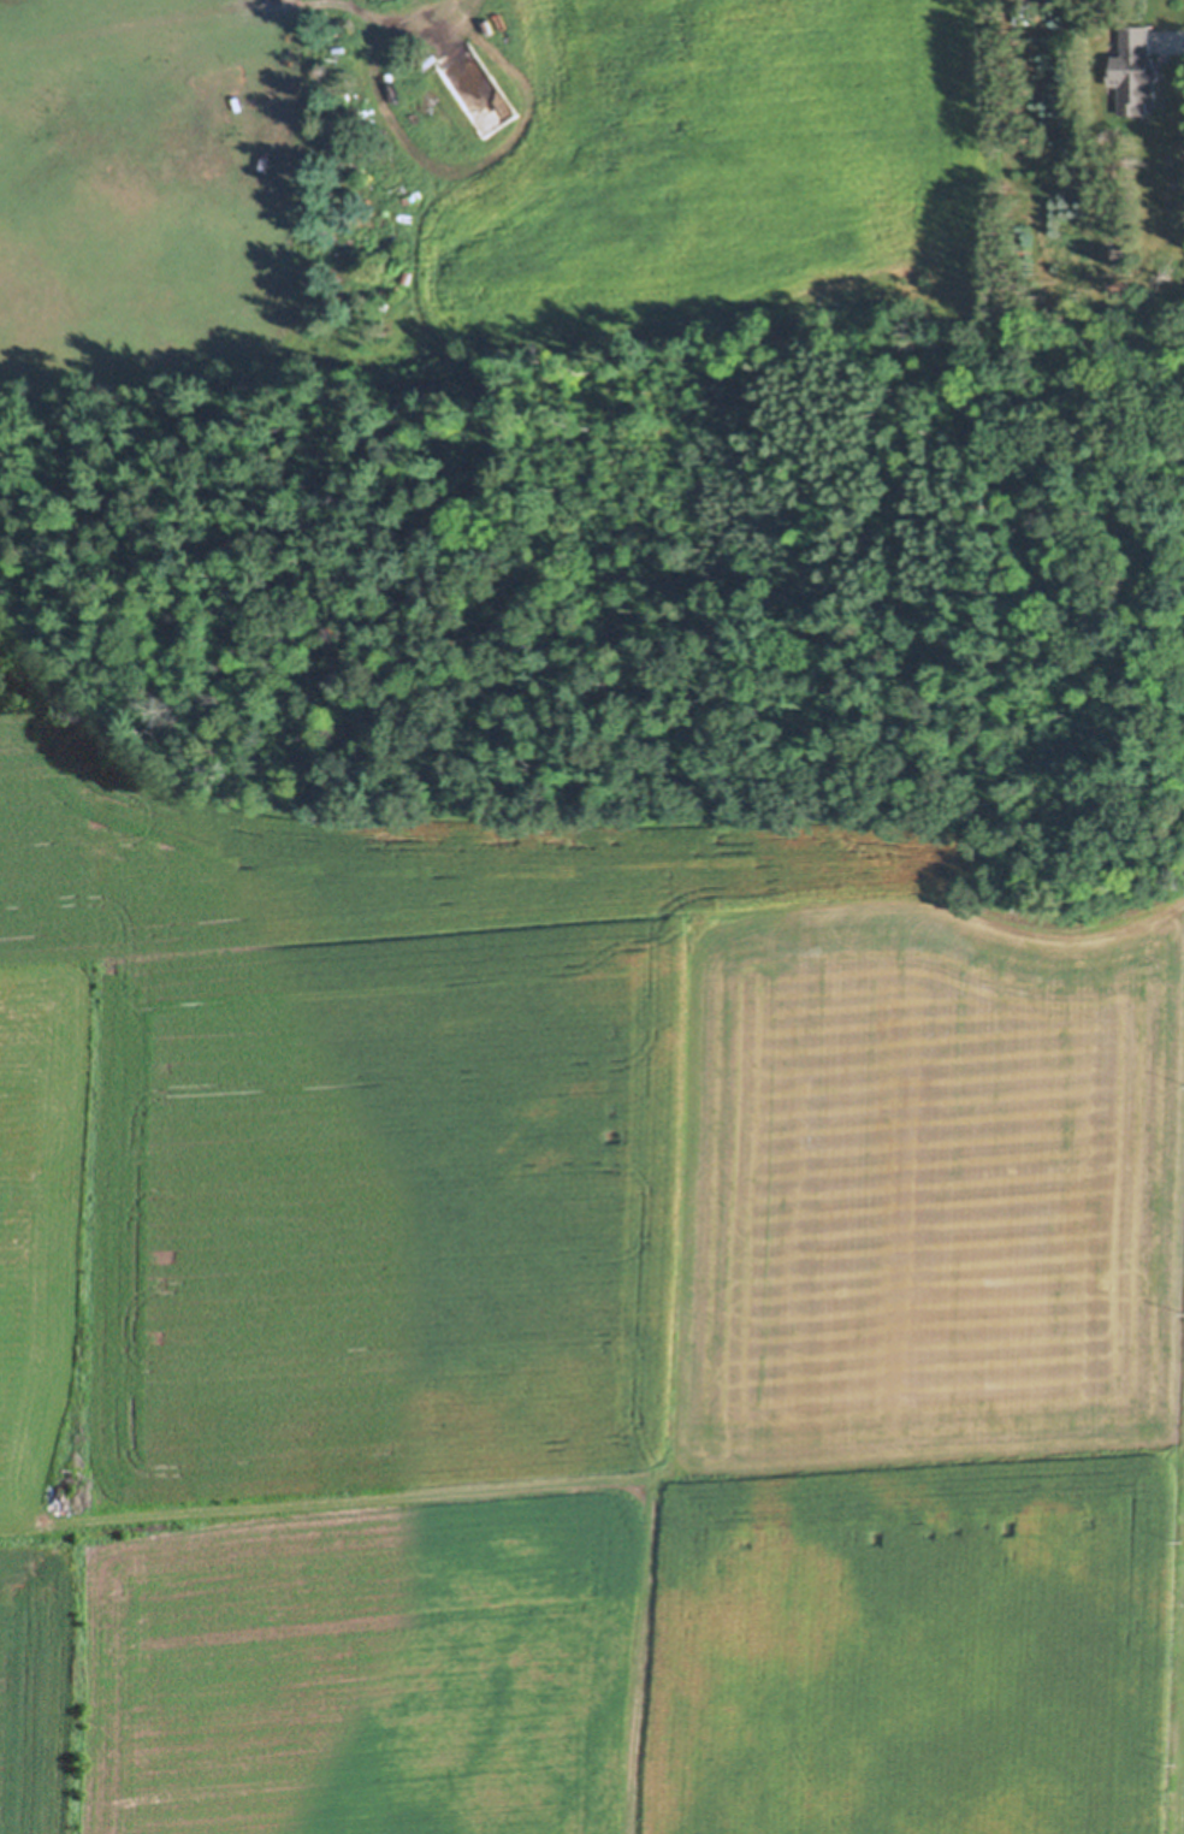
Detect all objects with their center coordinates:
building: (1022, 16)
building: (1133, 73)
crop: (574, 1326)

